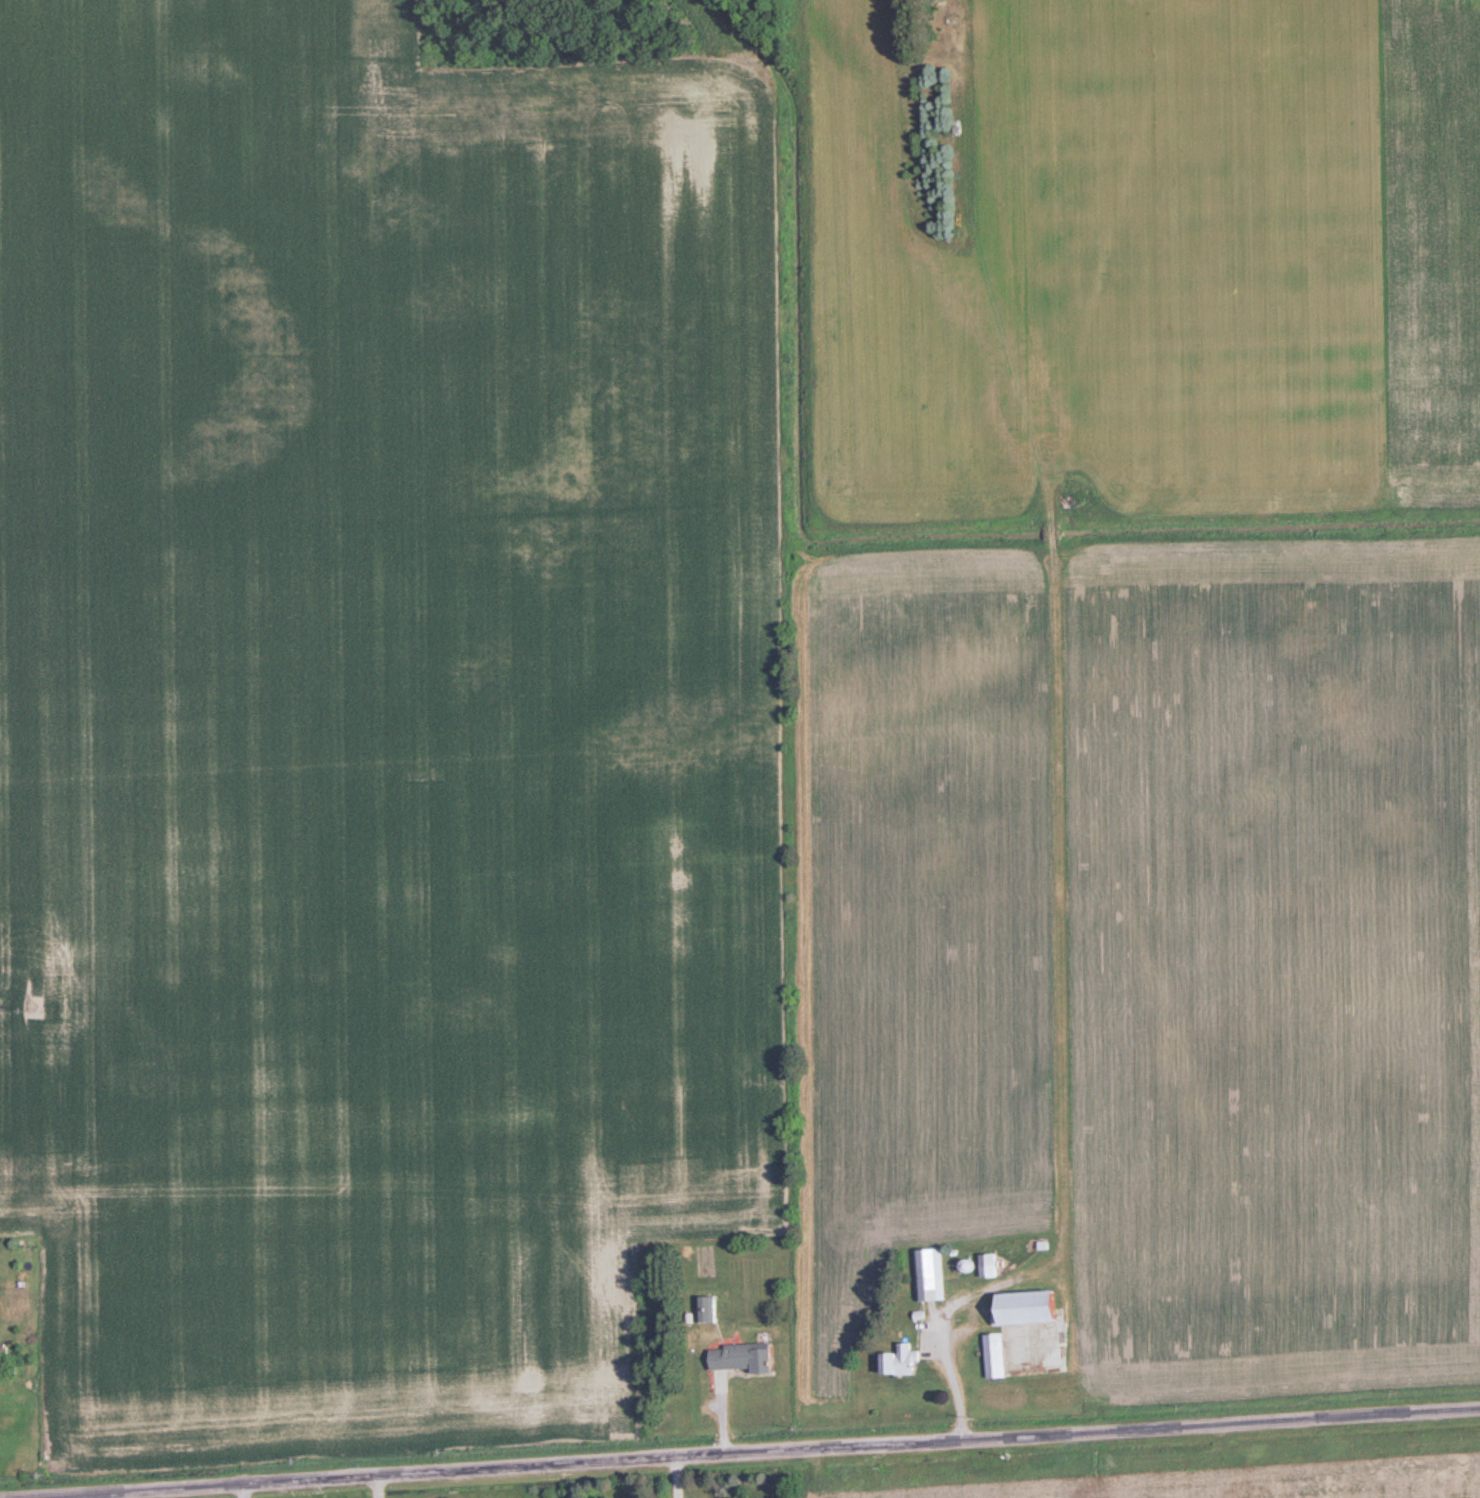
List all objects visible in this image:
road: (1063, 965)
building: (989, 1265)
building: (927, 1274)
building: (1033, 1306)
building: (706, 1309)
building: (997, 1355)
building: (745, 1356)
building: (901, 1360)
road: (743, 1451)

